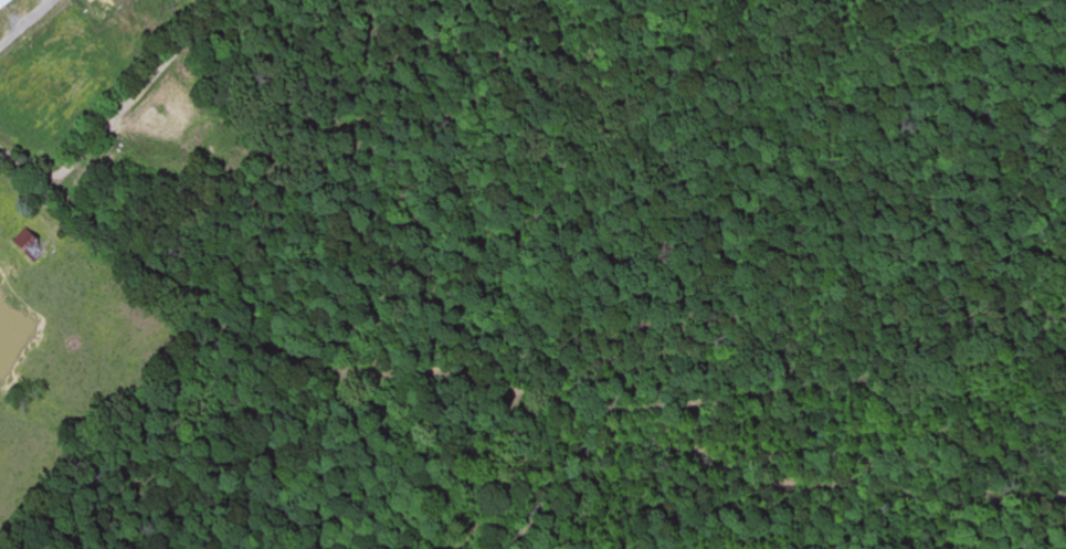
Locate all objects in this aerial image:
building: (4, 3)
road: (131, 94)
road: (25, 170)
road: (344, 371)
road: (793, 391)

